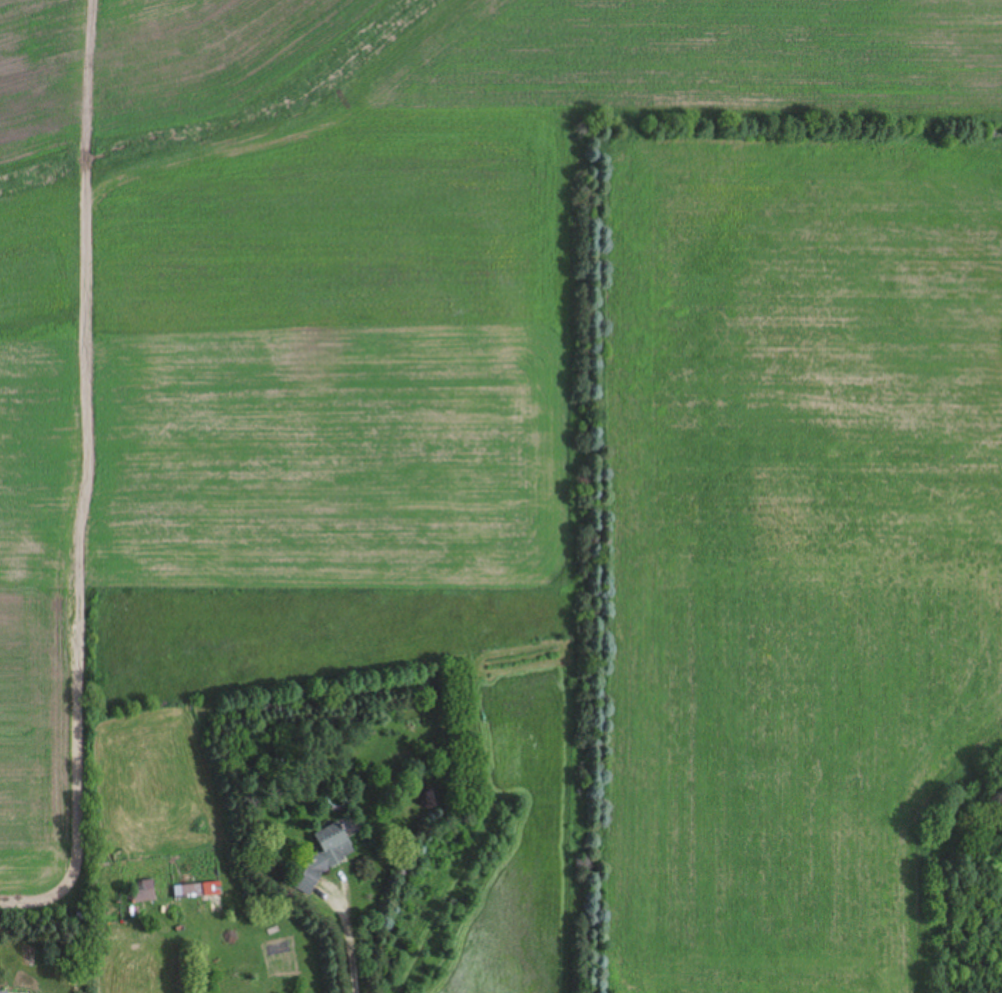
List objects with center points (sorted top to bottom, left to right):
building: (330, 854)
building: (189, 891)
building: (145, 892)
road: (351, 941)
building: (2, 992)

